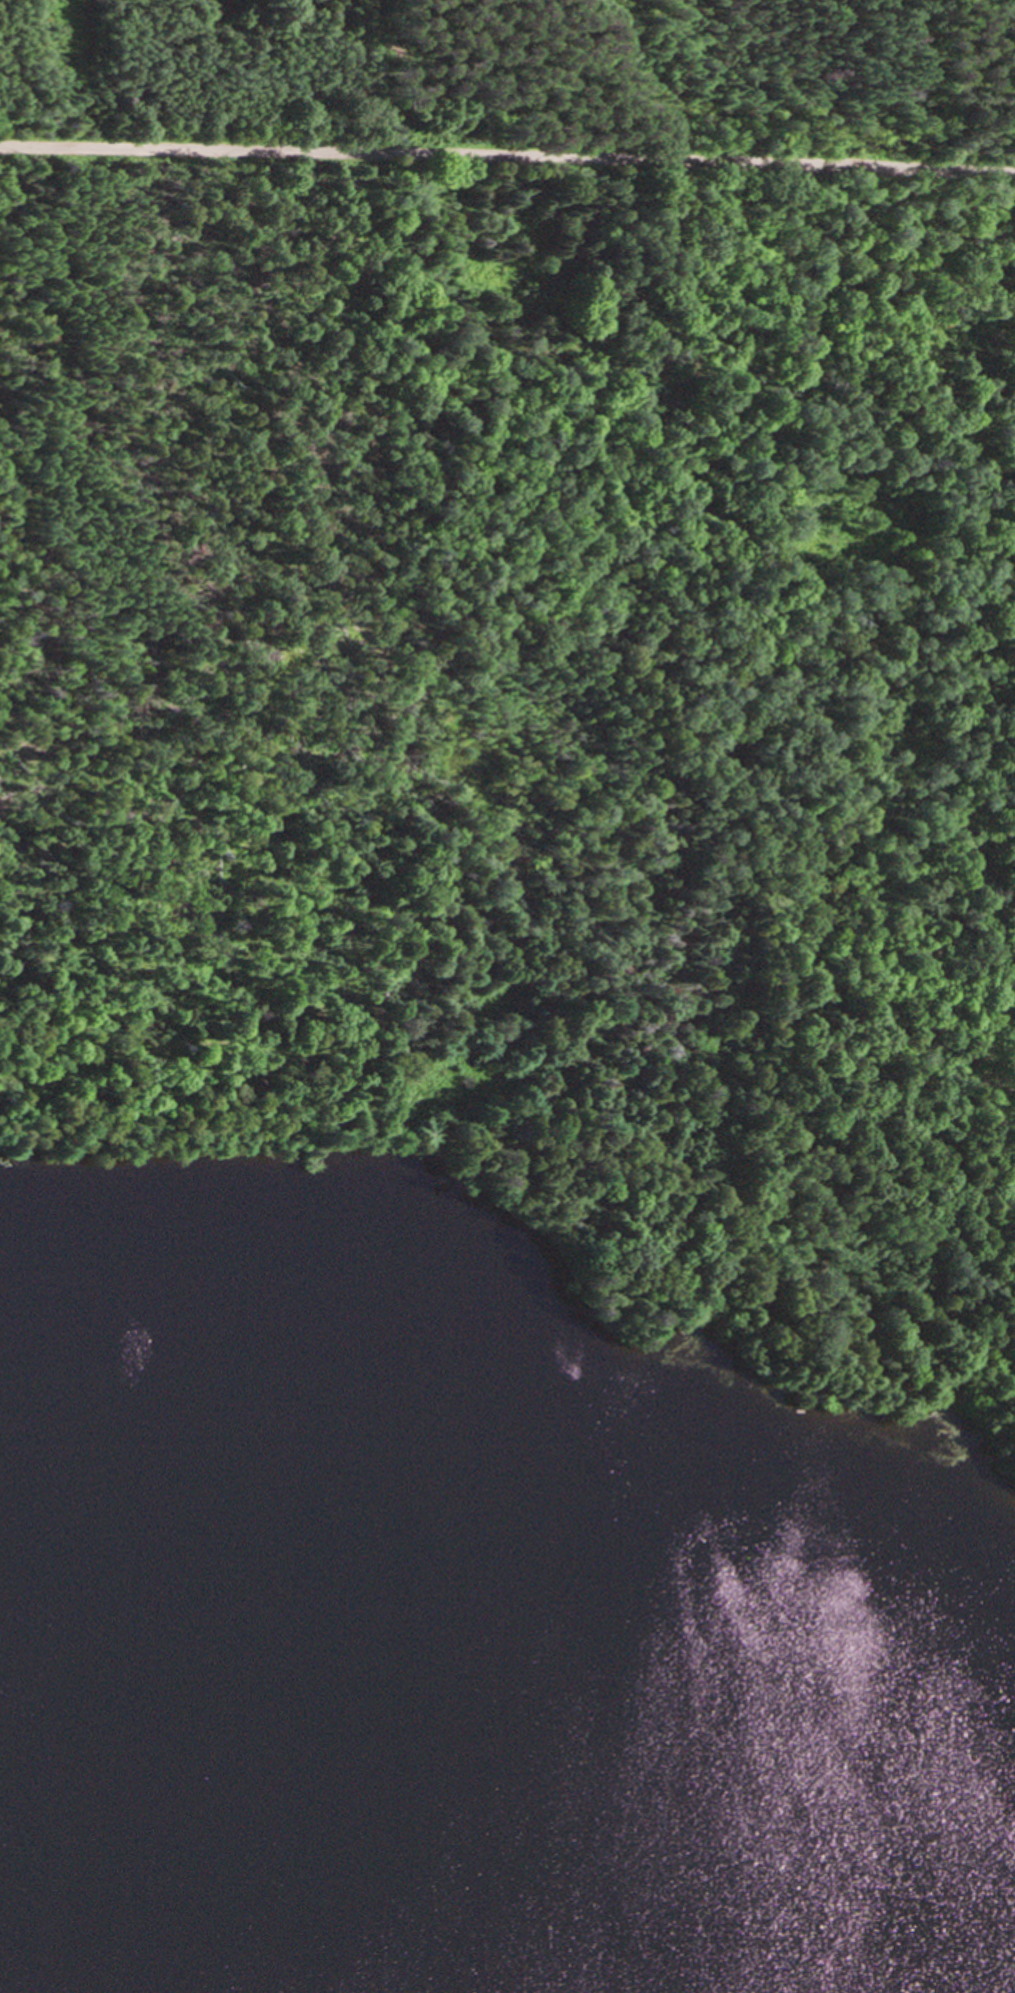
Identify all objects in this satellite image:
road: (507, 155)

